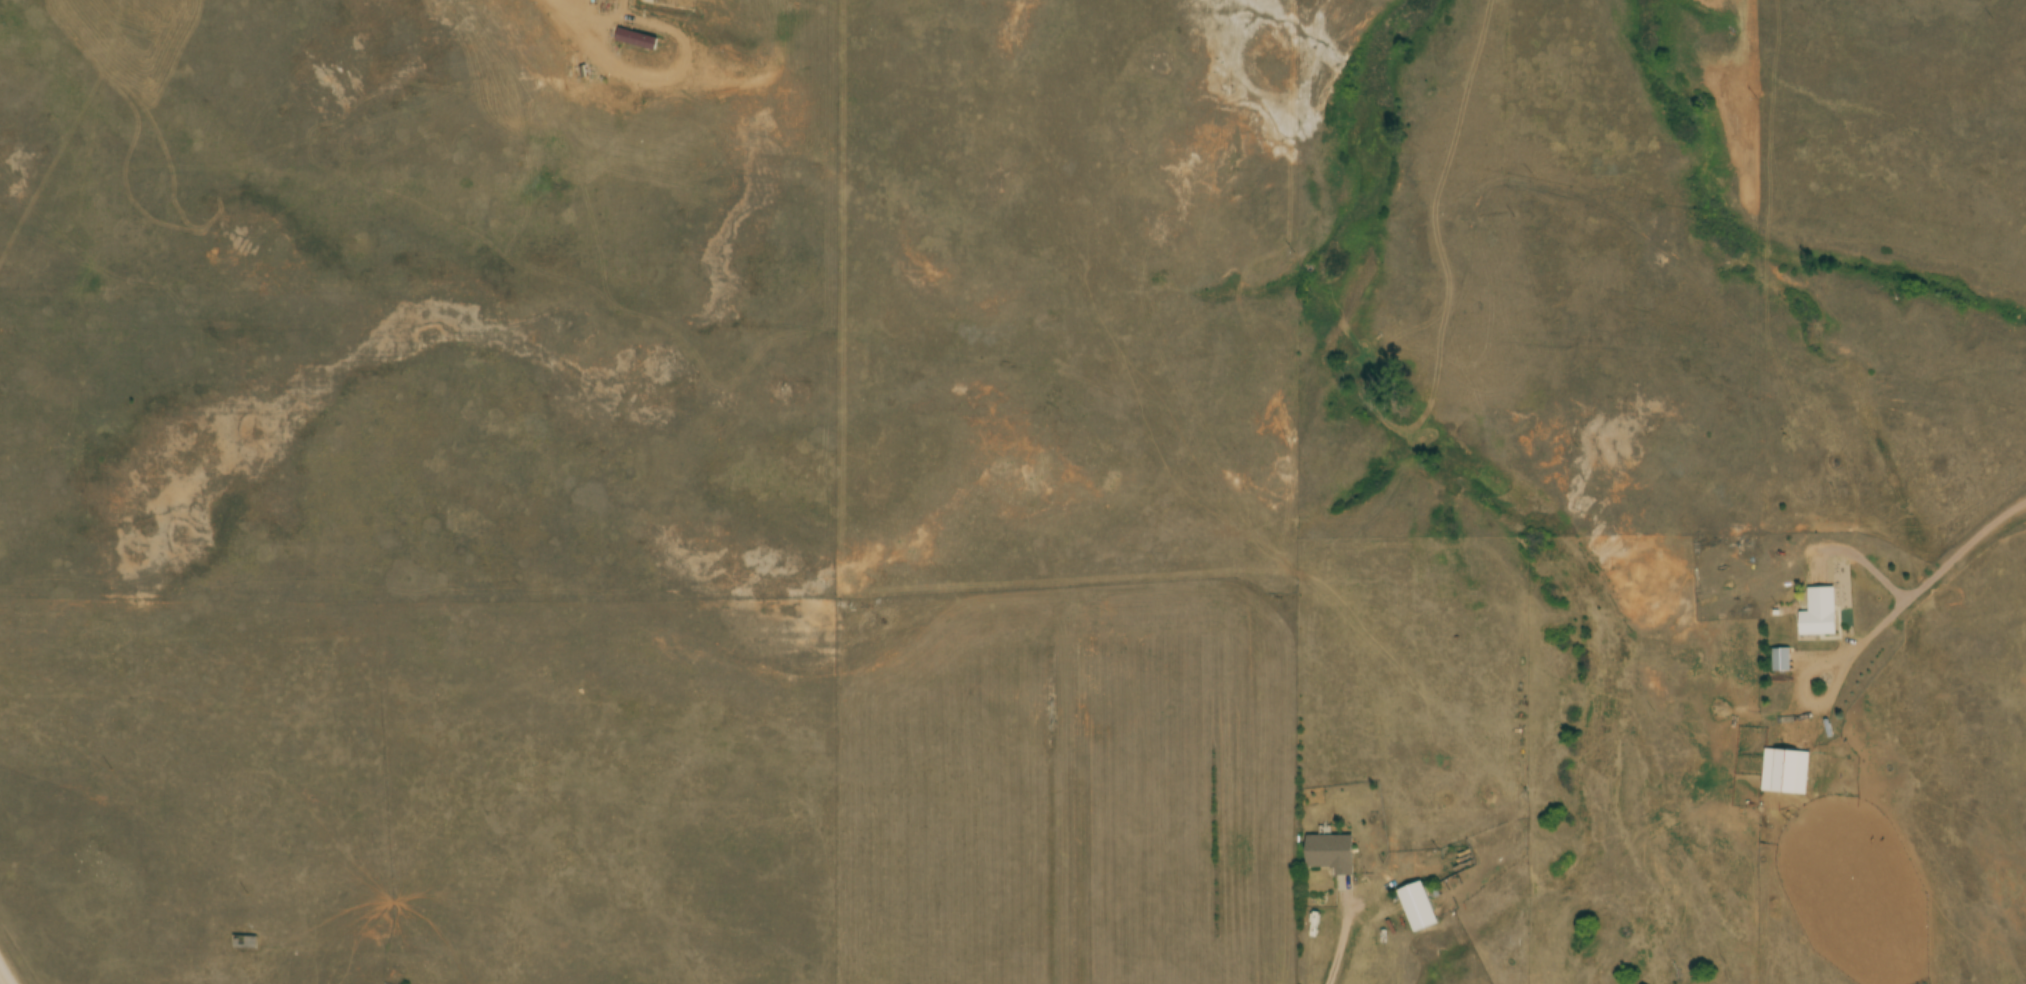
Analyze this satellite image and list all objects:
building: (1820, 615)
building: (1781, 662)
building: (1786, 774)
building: (1330, 856)
building: (1418, 910)
road: (3, 977)

